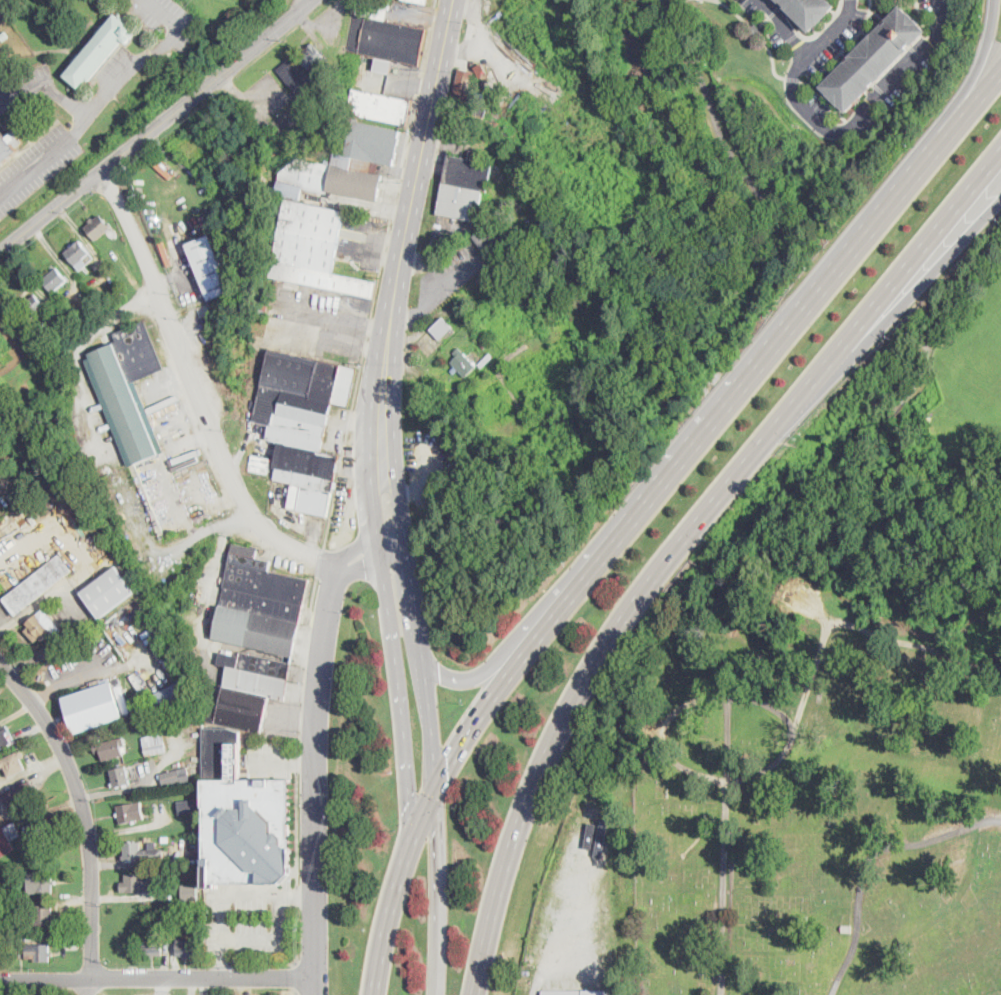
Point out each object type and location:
building: (421, 1)
building: (809, 10)
parking lot: (166, 19)
road: (168, 19)
road: (786, 26)
building: (755, 30)
road: (475, 32)
building: (384, 35)
building: (5, 36)
building: (98, 49)
road: (985, 49)
building: (874, 57)
building: (383, 63)
building: (481, 70)
park: (88, 74)
building: (309, 76)
road: (113, 81)
road: (415, 83)
road: (209, 84)
parking lot: (26, 85)
road: (19, 93)
building: (462, 95)
road: (62, 98)
road: (247, 102)
road: (973, 104)
building: (380, 107)
road: (954, 116)
road: (839, 128)
road: (720, 131)
building: (8, 146)
road: (35, 162)
parking lot: (36, 164)
building: (345, 164)
building: (468, 186)
road: (411, 207)
road: (54, 212)
building: (98, 227)
building: (493, 239)
building: (313, 249)
building: (78, 255)
building: (209, 267)
building: (55, 281)
building: (32, 306)
road: (897, 308)
road: (332, 318)
building: (441, 328)
building: (483, 343)
building: (136, 352)
road: (77, 358)
building: (484, 358)
building: (462, 363)
road: (826, 365)
road: (745, 386)
road: (910, 389)
building: (120, 406)
building: (303, 423)
road: (209, 424)
road: (867, 451)
road: (396, 479)
road: (375, 484)
road: (928, 547)
building: (36, 586)
building: (108, 591)
road: (415, 602)
building: (42, 626)
building: (258, 637)
road: (514, 652)
road: (452, 680)
road: (428, 694)
road: (400, 695)
building: (171, 696)
building: (123, 698)
building: (93, 707)
road: (484, 709)
building: (151, 724)
road: (794, 733)
building: (4, 738)
building: (158, 743)
building: (110, 748)
road: (434, 760)
building: (13, 763)
traffic signals: (449, 766)
road: (317, 769)
road: (539, 776)
building: (120, 777)
building: (175, 777)
road: (420, 778)
building: (21, 795)
traffic signals: (411, 801)
building: (189, 807)
park: (812, 809)
building: (130, 812)
road: (86, 816)
road: (424, 817)
building: (242, 818)
traffic signals: (437, 828)
building: (41, 831)
building: (8, 838)
building: (141, 853)
road: (868, 859)
building: (42, 881)
building: (140, 884)
building: (192, 892)
road: (439, 894)
building: (8, 896)
road: (297, 896)
road: (301, 896)
road: (390, 916)
building: (44, 917)
building: (805, 917)
building: (846, 927)
road: (221, 940)
building: (2, 945)
building: (153, 947)
building: (186, 948)
building: (38, 952)
road: (221, 960)
road: (158, 978)
road: (203, 986)
road: (315, 986)
building: (582, 992)
parking lot: (212, 994)
building: (246, 994)

